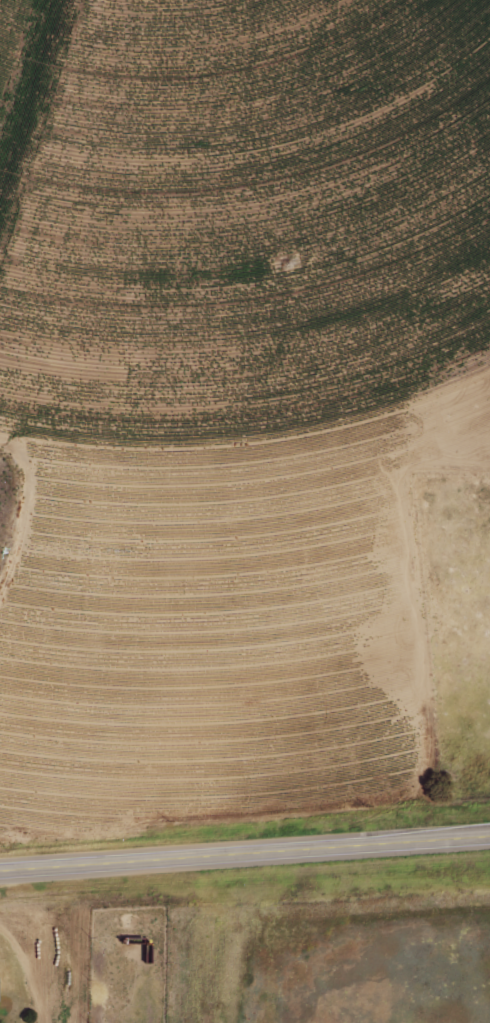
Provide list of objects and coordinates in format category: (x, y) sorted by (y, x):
road: (245, 869)
road: (29, 972)

